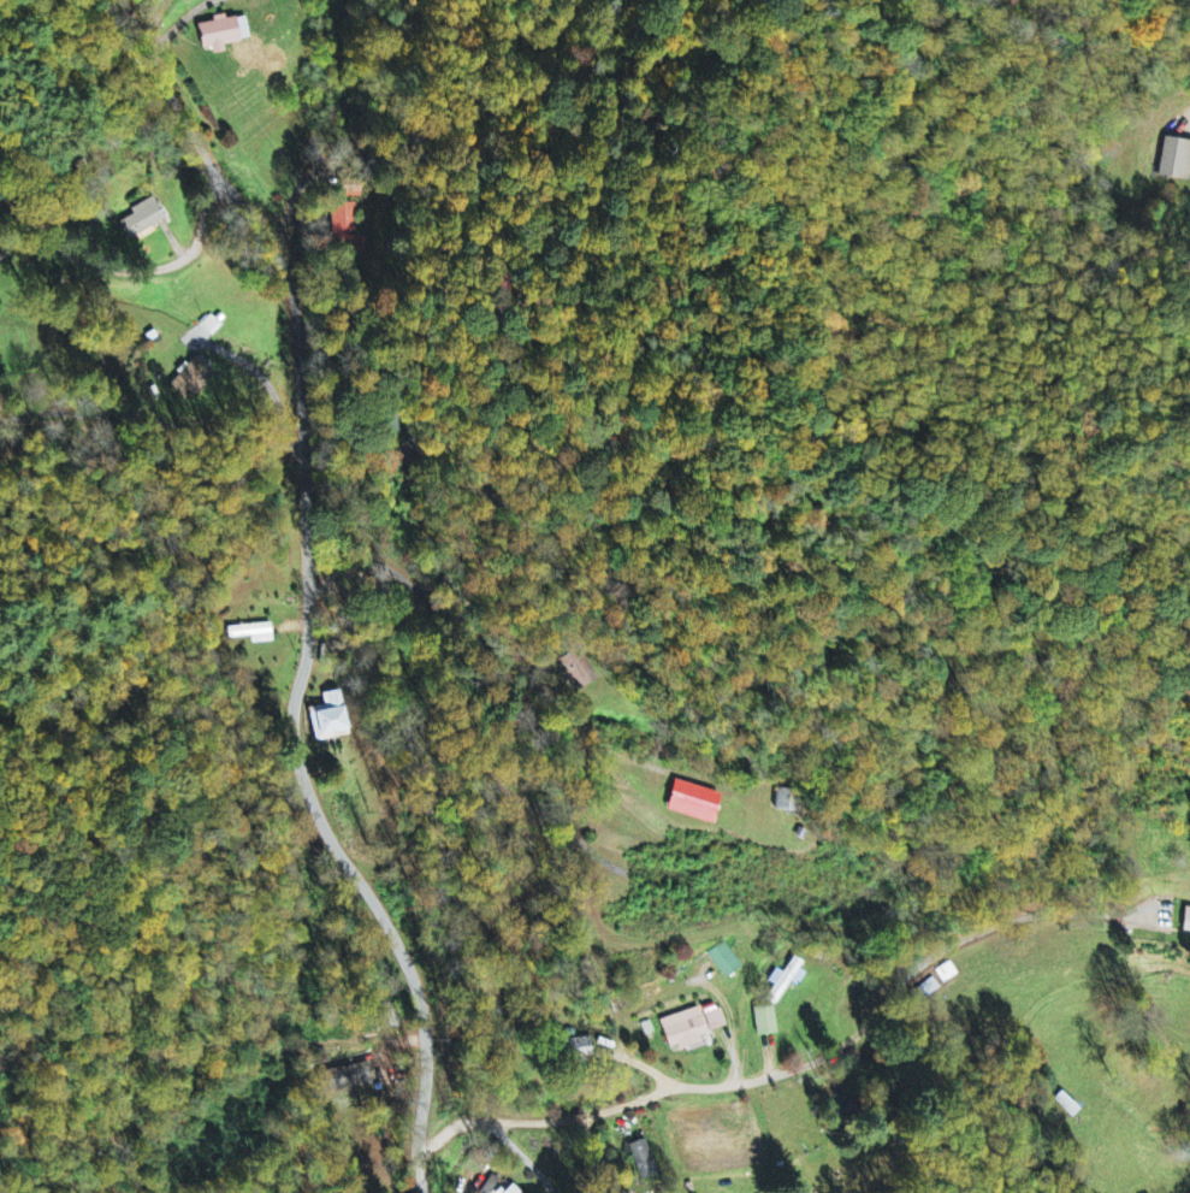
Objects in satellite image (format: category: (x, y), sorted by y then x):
building: (225, 33)
road: (272, 271)
road: (132, 272)
building: (193, 379)
road: (503, 685)
building: (697, 802)
road: (339, 890)
building: (1185, 922)
building: (1189, 938)
building: (728, 961)
building: (787, 976)
building: (769, 1021)
building: (692, 1028)
road: (765, 1075)
road: (480, 1158)
building: (514, 1189)

